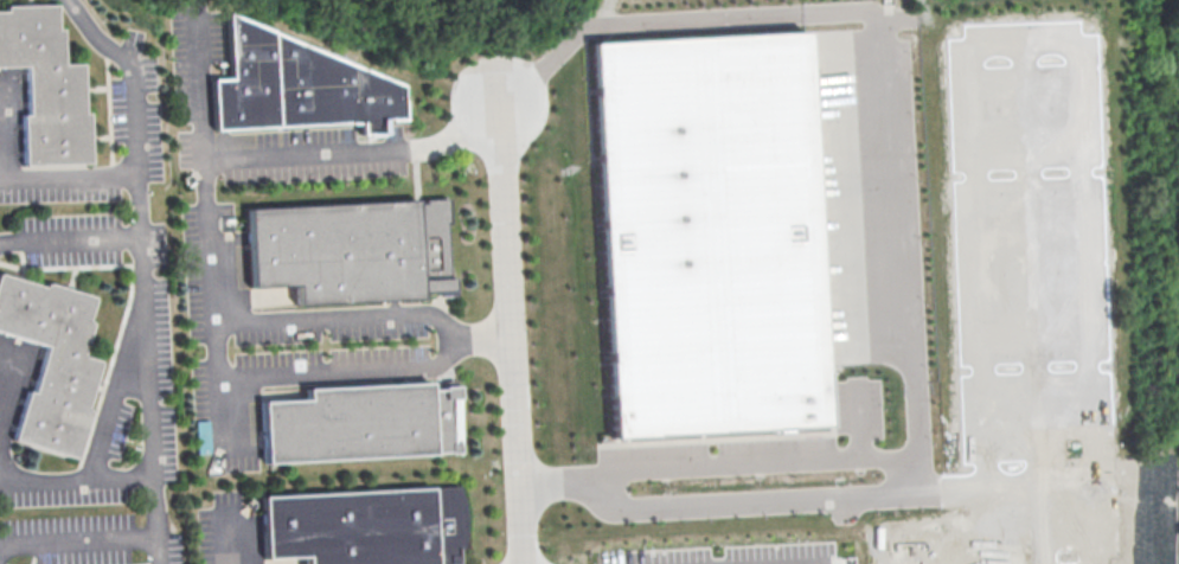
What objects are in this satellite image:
road: (639, 24)
building: (296, 84)
road: (130, 86)
building: (43, 92)
road: (354, 154)
road: (899, 156)
road: (68, 180)
building: (712, 241)
road: (69, 243)
building: (348, 250)
road: (212, 325)
road: (512, 331)
road: (214, 354)
building: (50, 366)
road: (309, 374)
road: (146, 383)
road: (111, 391)
building: (359, 422)
road: (916, 437)
road: (760, 462)
road: (75, 481)
road: (559, 487)
road: (882, 494)
building: (363, 526)
road: (76, 540)
road: (223, 545)

